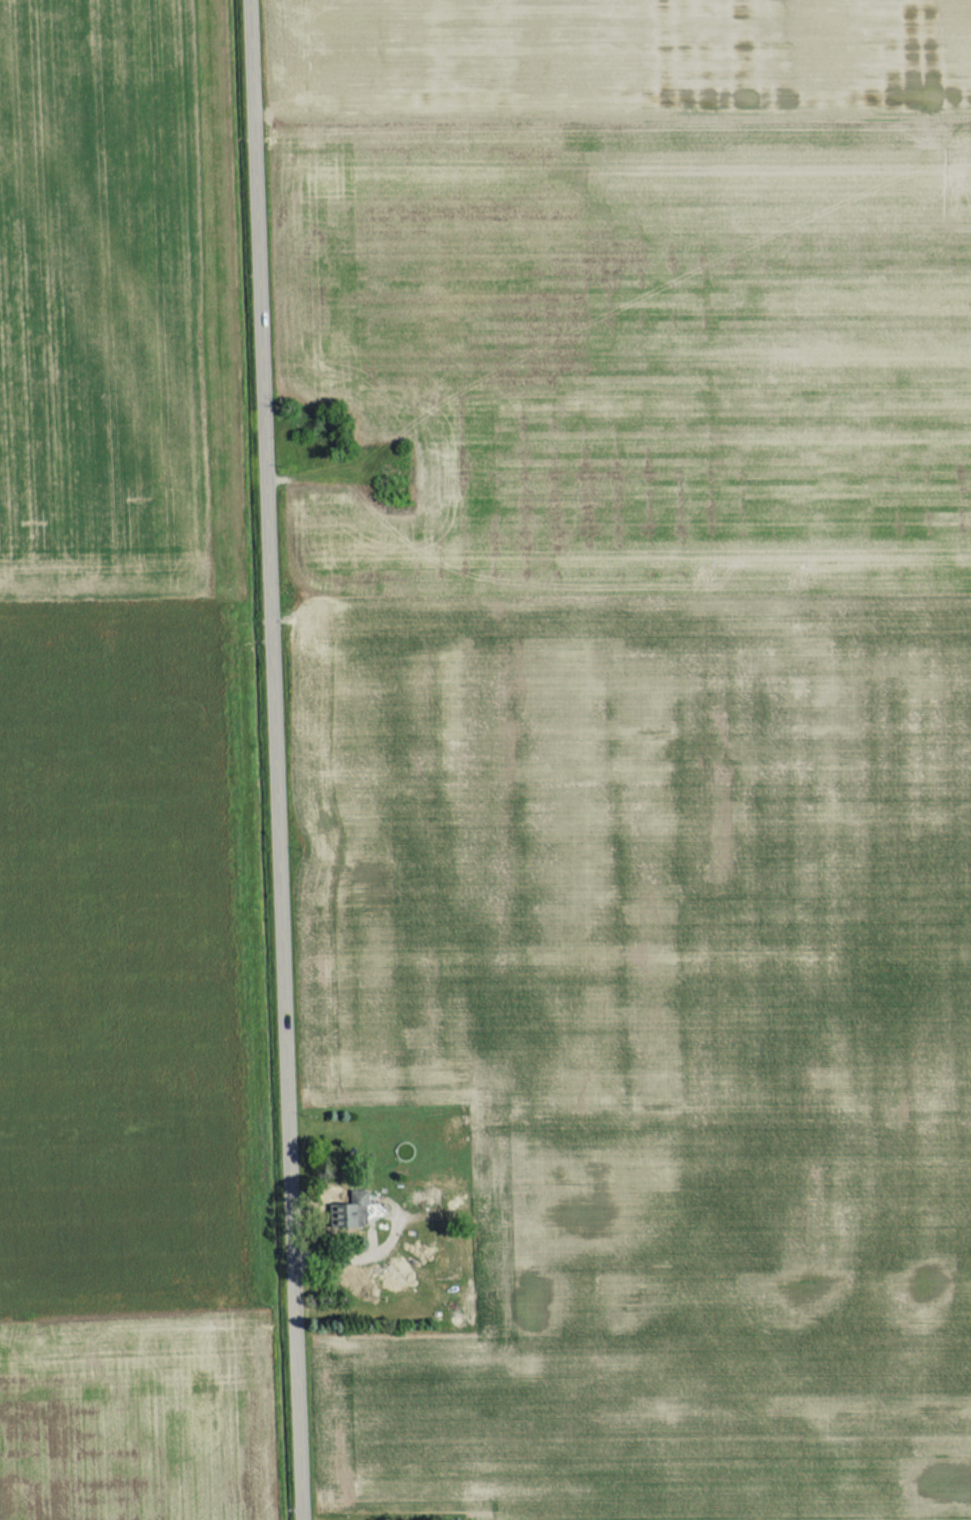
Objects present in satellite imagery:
crop: (633, 292)
crop: (102, 303)
road: (276, 760)
crop: (656, 1039)
crop: (119, 1073)
building: (346, 1212)
crop: (716, 1517)

